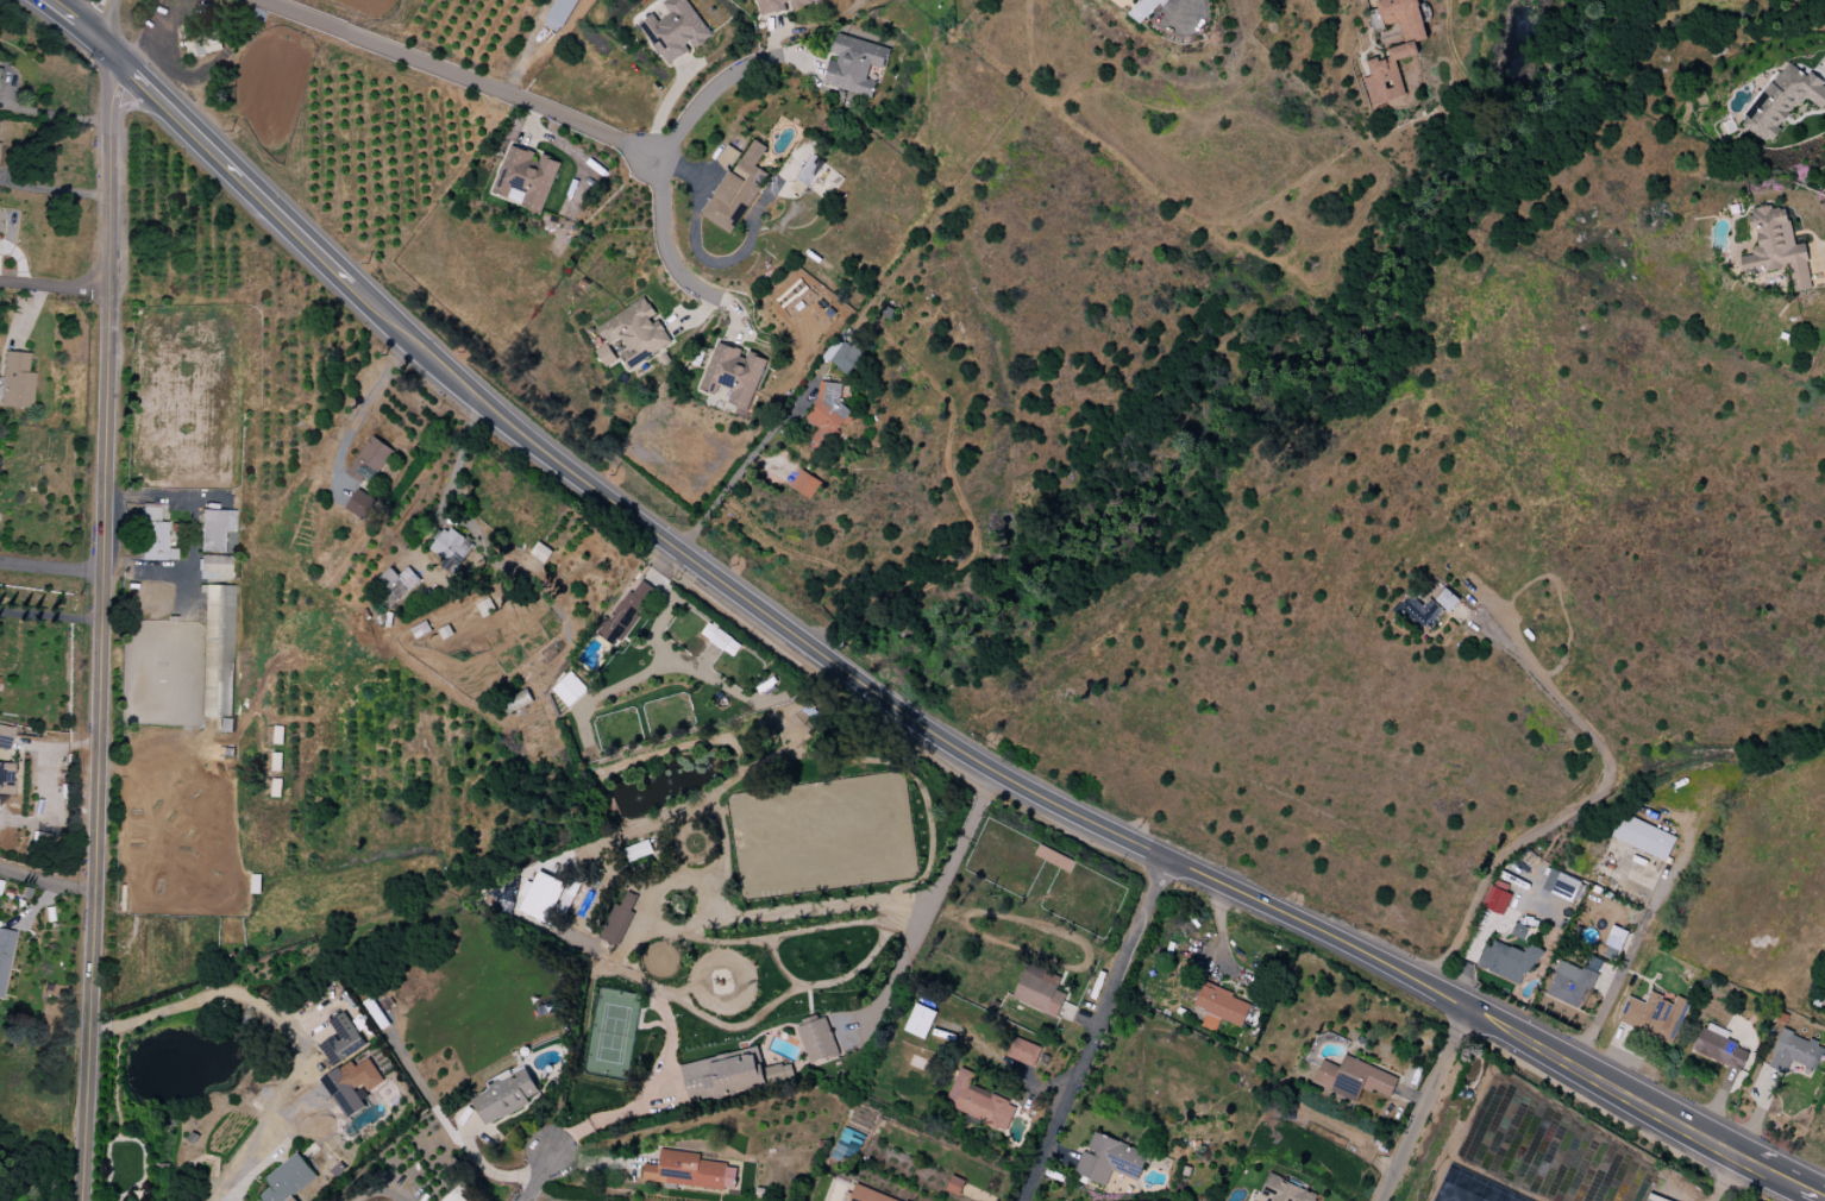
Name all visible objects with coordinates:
building: (779, 5)
building: (1143, 10)
building: (559, 14)
road: (64, 18)
road: (96, 18)
building: (675, 30)
building: (1394, 50)
road: (106, 54)
building: (853, 64)
road: (457, 74)
building: (1781, 101)
road: (651, 157)
building: (728, 157)
building: (526, 177)
road: (238, 180)
building: (814, 180)
building: (738, 189)
road: (52, 190)
building: (1775, 247)
road: (54, 287)
building: (635, 332)
building: (842, 356)
building: (733, 375)
building: (15, 381)
road: (366, 413)
building: (826, 414)
building: (370, 460)
road: (739, 473)
building: (804, 484)
building: (359, 504)
road: (189, 530)
building: (217, 532)
building: (153, 536)
building: (451, 549)
building: (214, 567)
road: (50, 568)
building: (396, 583)
road: (190, 586)
road: (745, 597)
building: (1447, 600)
building: (1418, 610)
building: (625, 614)
road: (49, 615)
road: (98, 634)
building: (720, 639)
building: (218, 650)
building: (569, 688)
building: (5, 736)
building: (6, 778)
road: (1589, 800)
building: (1643, 837)
building: (1054, 859)
road: (45, 880)
building: (1560, 885)
building: (543, 897)
building: (1495, 900)
building: (617, 919)
road: (707, 923)
building: (1616, 938)
building: (5, 954)
building: (1507, 961)
road: (1392, 962)
building: (1572, 982)
building: (1039, 989)
building: (1219, 1007)
building: (1654, 1015)
road: (283, 1018)
building: (920, 1021)
road: (1097, 1029)
building: (816, 1038)
building: (341, 1039)
building: (1719, 1046)
building: (1024, 1051)
building: (1794, 1052)
building: (728, 1075)
building: (1353, 1079)
building: (351, 1084)
building: (506, 1094)
road: (1428, 1101)
building: (978, 1102)
road: (1661, 1105)
building: (1109, 1159)
road: (1769, 1163)
building: (689, 1171)
road: (1719, 1171)
road: (487, 1172)
road: (252, 1176)
road: (540, 1177)
building: (288, 1180)
building: (1285, 1190)
road: (376, 1191)
building: (456, 1194)
building: (868, 1195)

